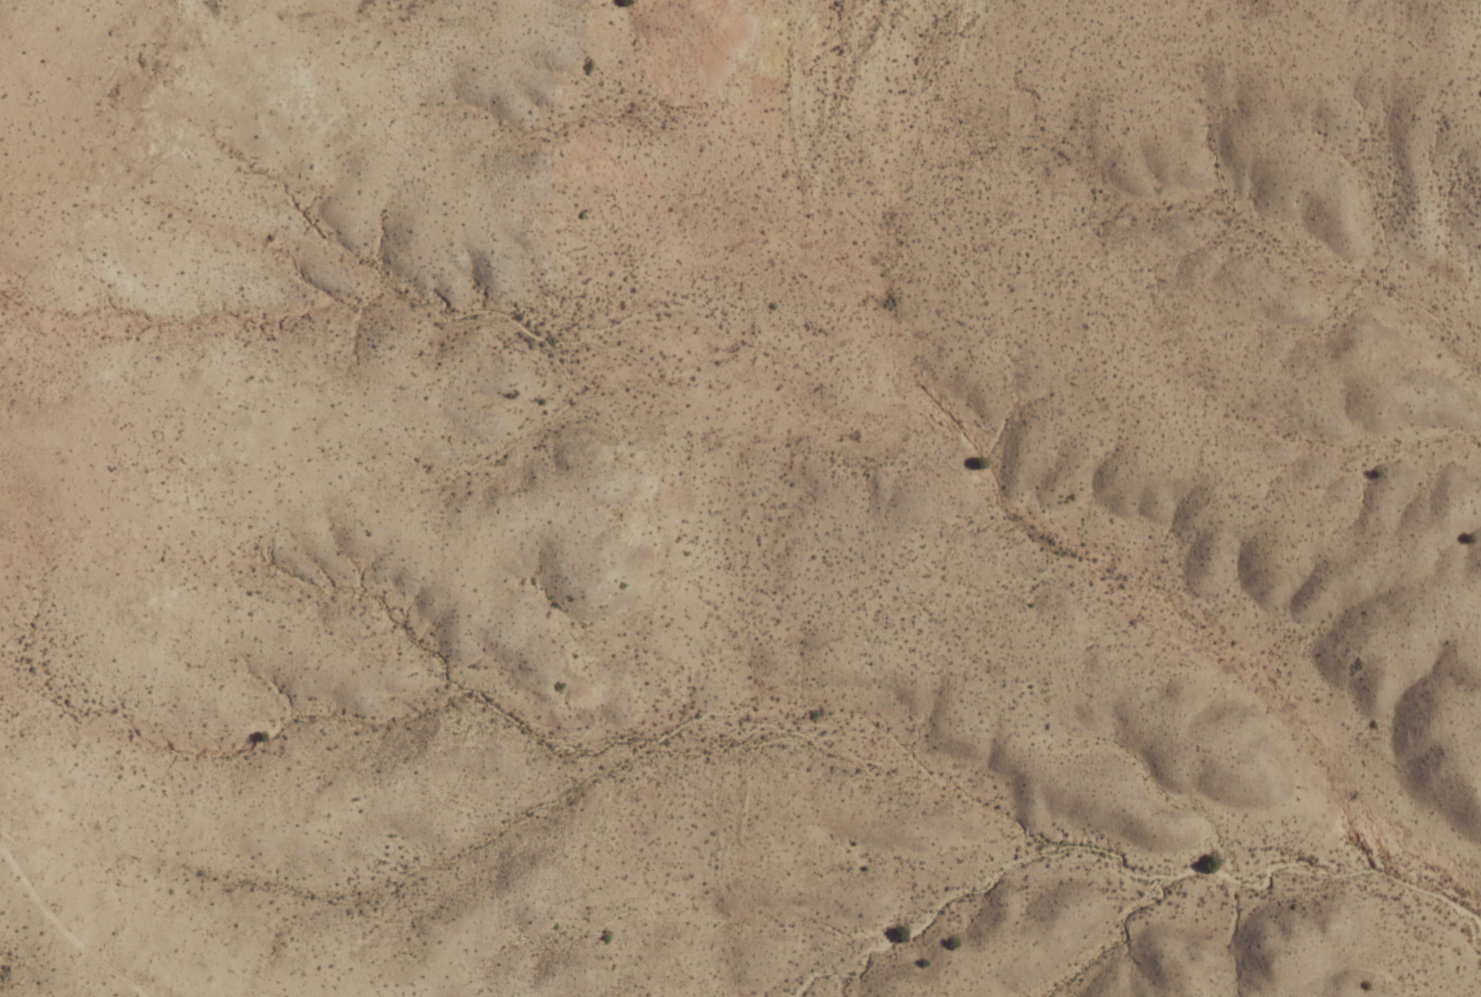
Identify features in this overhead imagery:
road: (61, 931)

